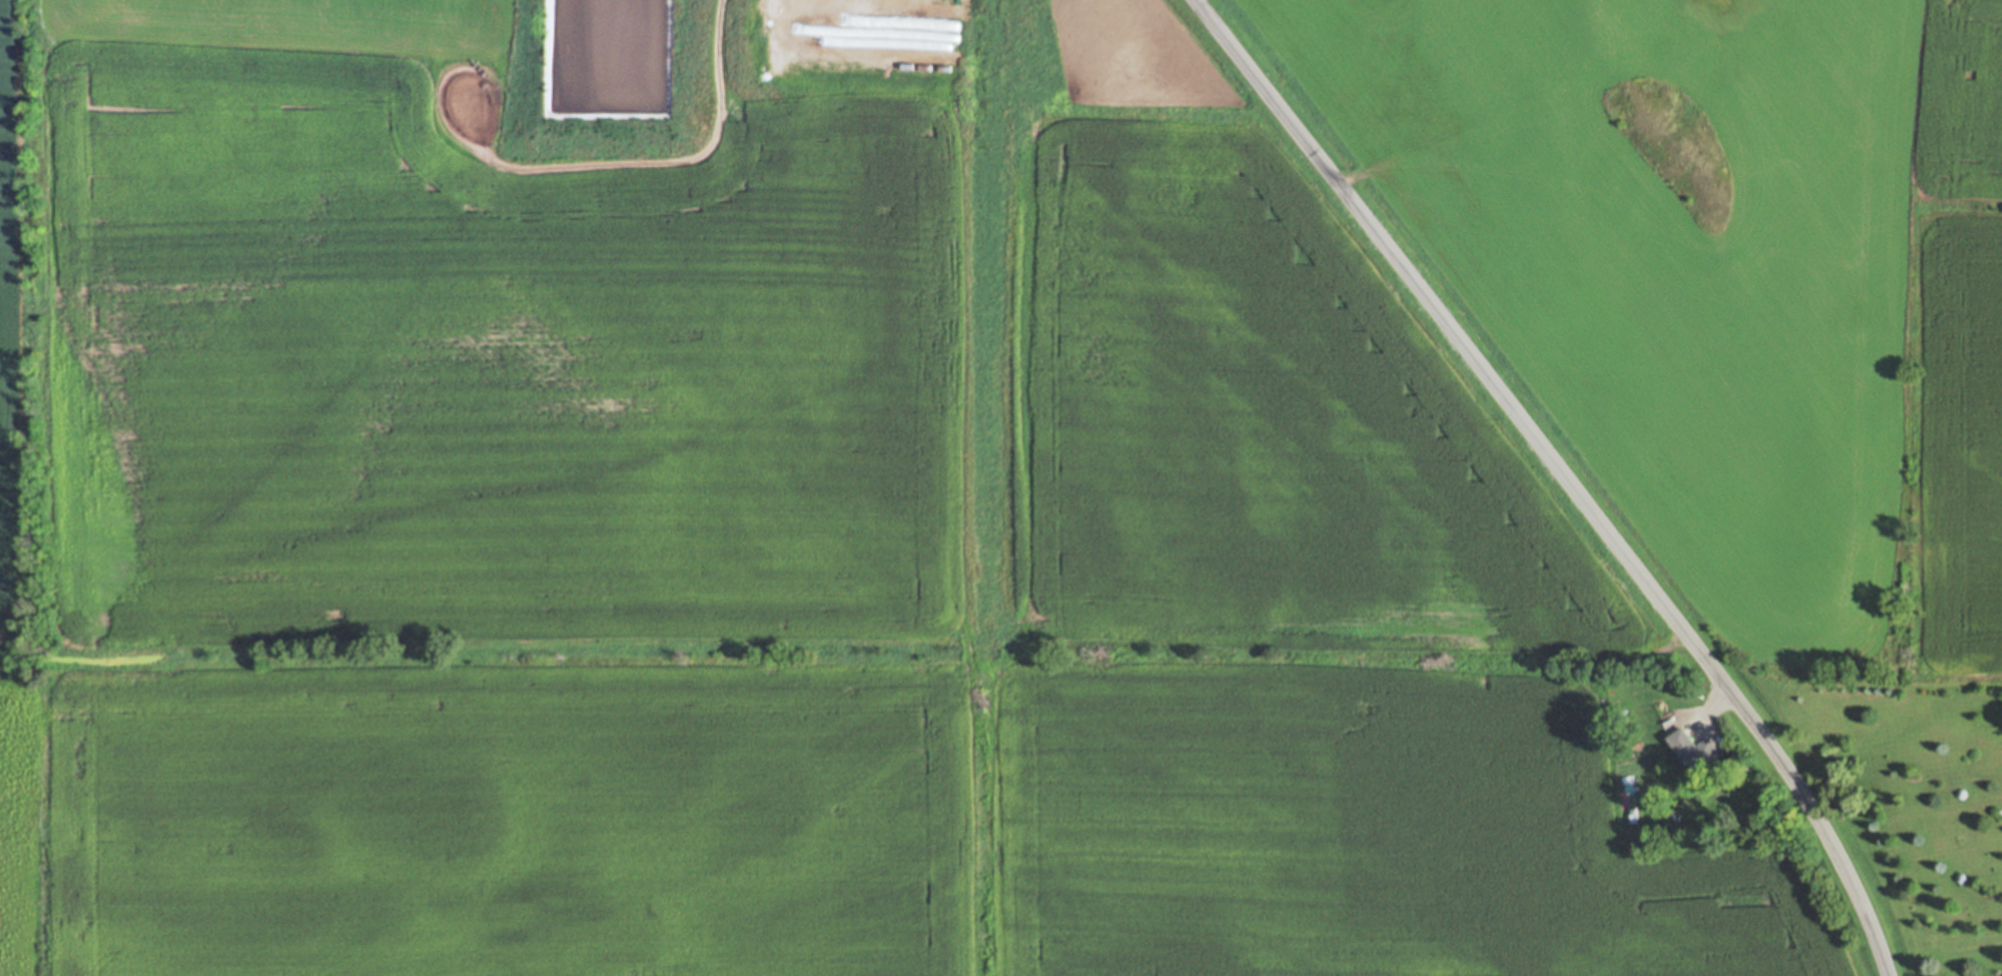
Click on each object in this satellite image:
road: (1565, 474)
building: (1696, 749)

